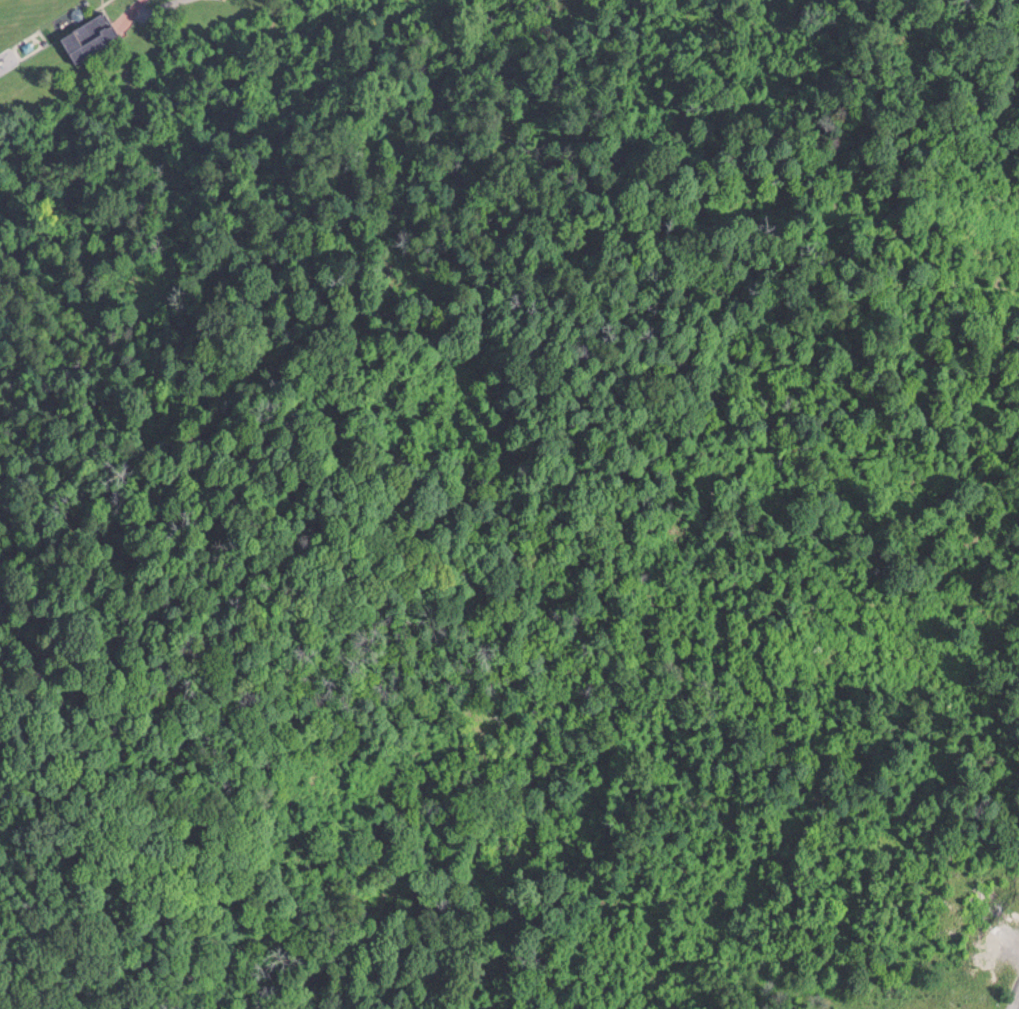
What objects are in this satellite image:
building: (90, 35)
road: (1017, 1005)

